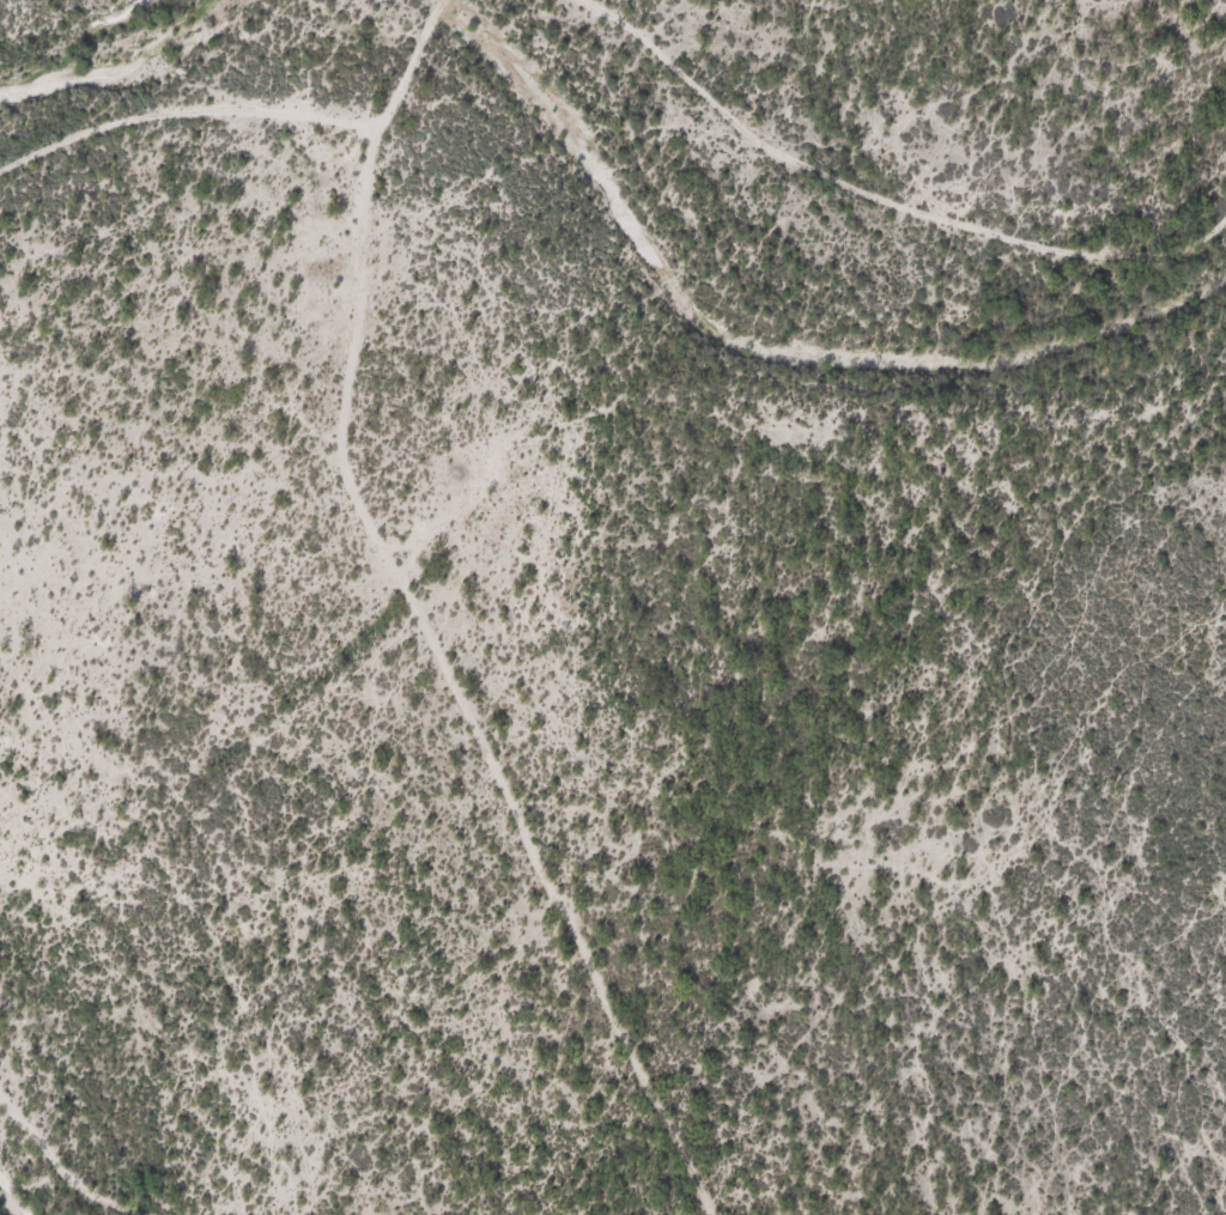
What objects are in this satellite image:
road: (879, 202)
road: (420, 620)

